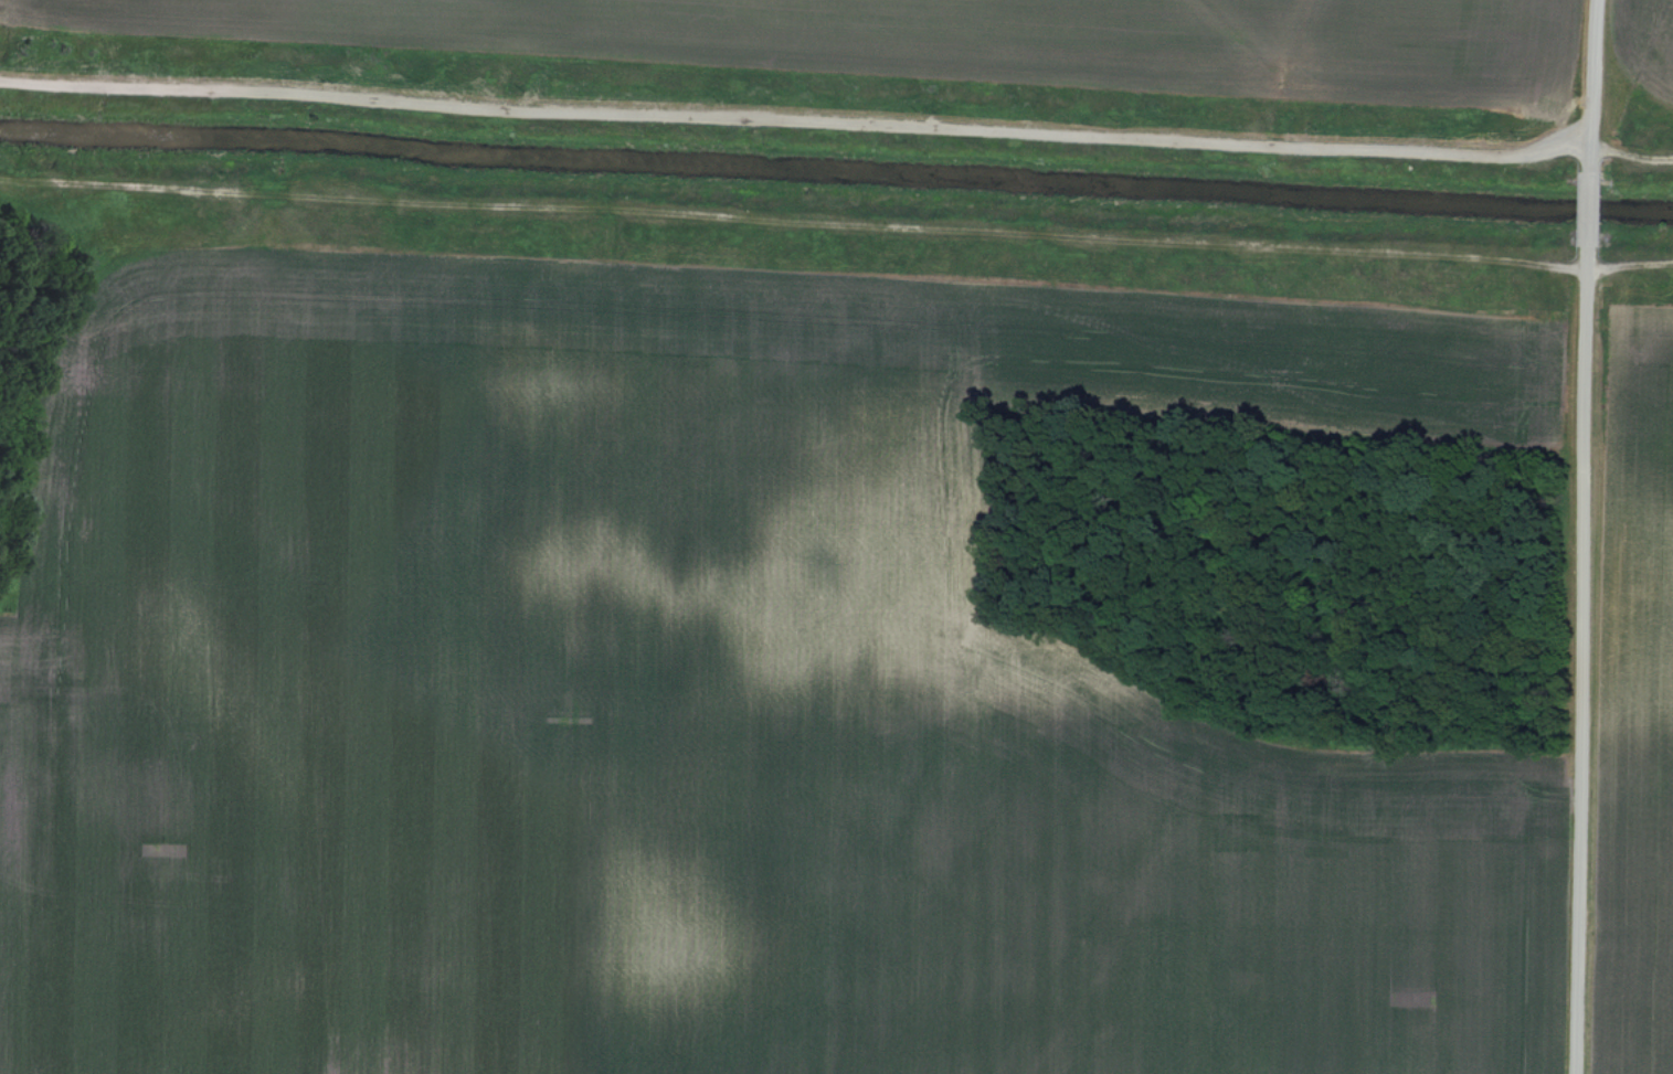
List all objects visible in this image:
road: (1580, 536)

